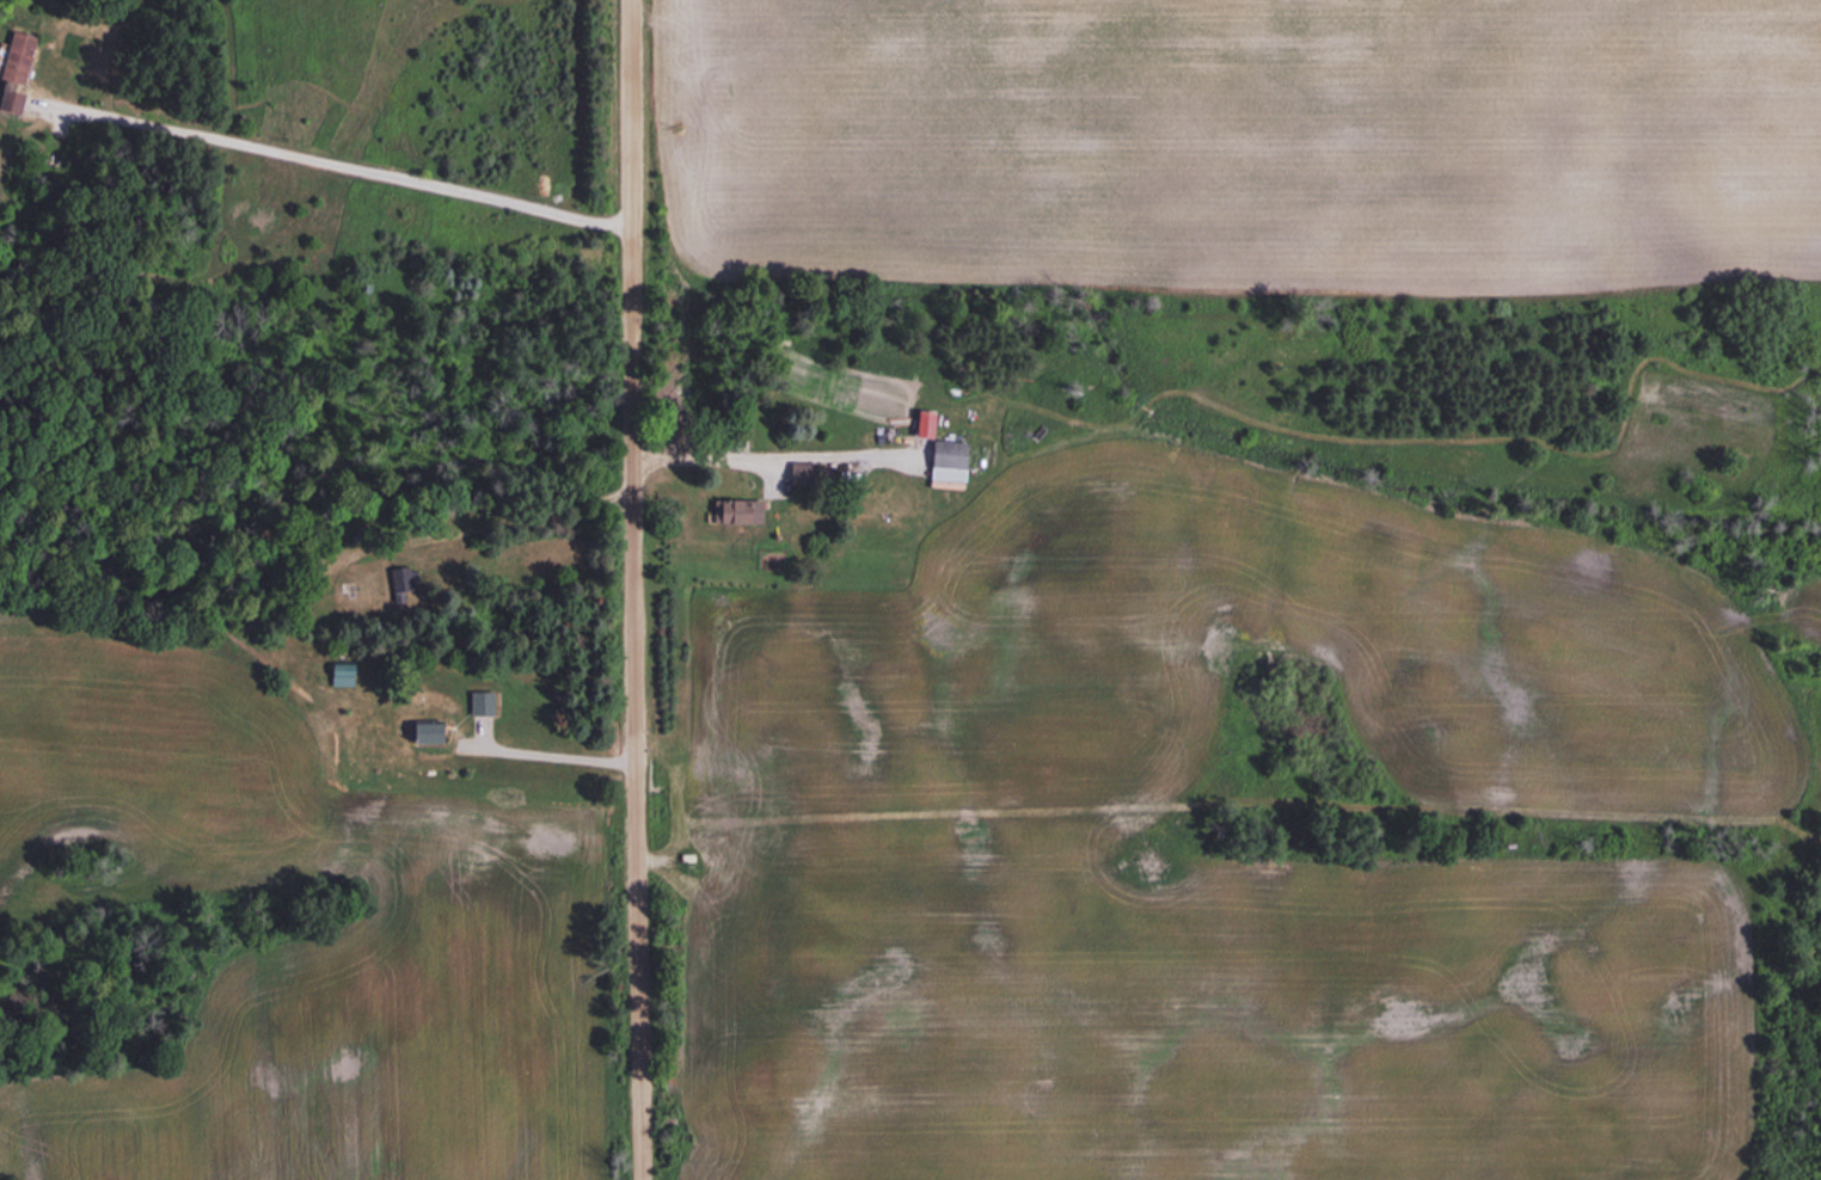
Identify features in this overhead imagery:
building: (14, 72)
building: (949, 455)
building: (802, 473)
building: (731, 511)
building: (401, 582)
road: (636, 589)
building: (341, 669)
building: (480, 702)
building: (427, 732)

